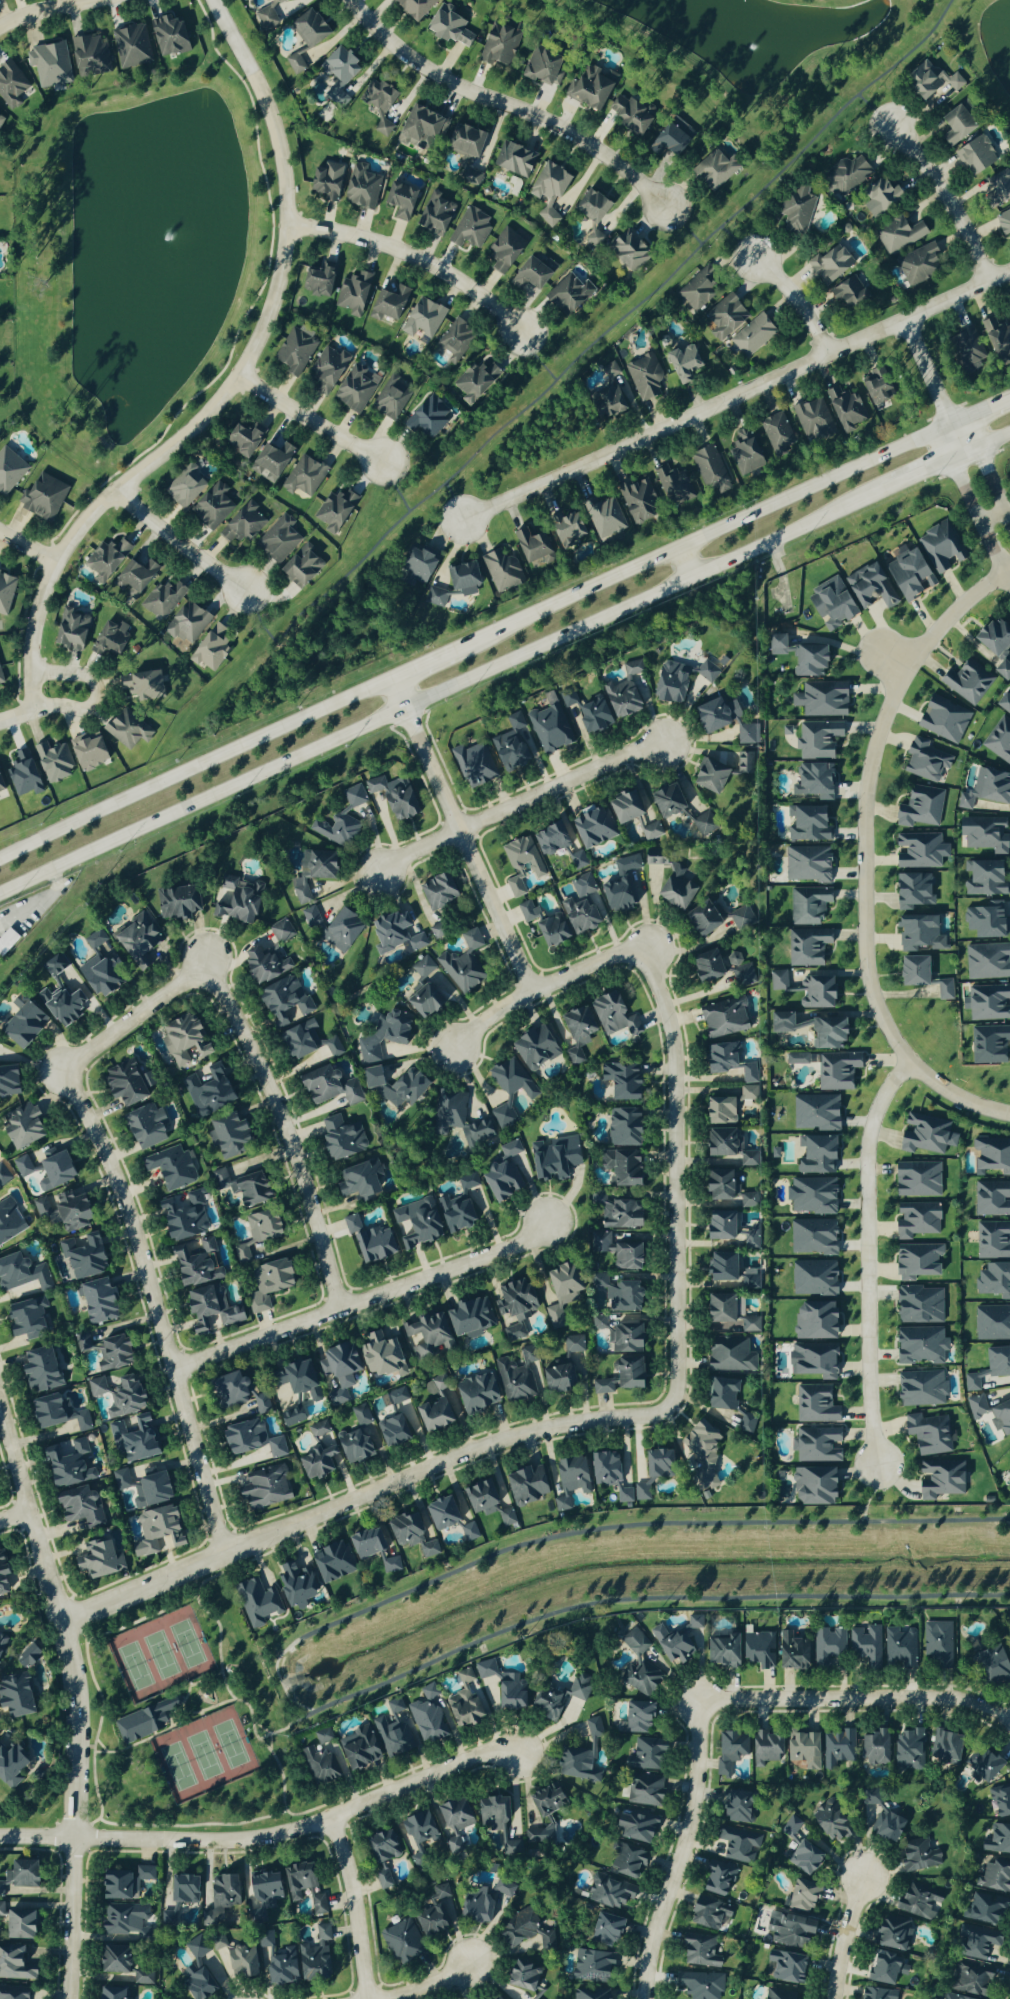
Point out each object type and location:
building: (412, 8)
road: (42, 9)
building: (265, 16)
building: (447, 26)
building: (308, 28)
building: (167, 36)
building: (498, 44)
building: (129, 46)
fountain: (751, 47)
building: (88, 55)
building: (294, 63)
building: (48, 64)
building: (541, 68)
building: (334, 77)
building: (919, 82)
building: (954, 82)
building: (10, 85)
building: (588, 88)
building: (377, 96)
road: (506, 103)
road: (874, 109)
building: (627, 115)
building: (0, 117)
building: (954, 126)
building: (382, 127)
building: (420, 127)
building: (666, 142)
building: (467, 151)
building: (974, 155)
building: (513, 160)
building: (713, 171)
building: (845, 175)
building: (325, 181)
building: (359, 188)
building: (996, 188)
building: (548, 190)
building: (880, 196)
road: (947, 197)
building: (399, 200)
building: (795, 211)
building: (433, 214)
building: (591, 217)
road: (683, 223)
building: (1003, 223)
building: (469, 228)
building: (898, 236)
road: (738, 240)
building: (503, 250)
building: (627, 252)
road: (415, 256)
building: (828, 264)
building: (918, 264)
building: (530, 271)
building: (315, 280)
building: (695, 293)
building: (847, 293)
building: (352, 294)
building: (566, 295)
road: (795, 301)
building: (386, 304)
building: (724, 317)
building: (421, 320)
building: (752, 336)
building: (996, 337)
building: (454, 341)
road: (591, 341)
building: (963, 349)
building: (293, 351)
road: (536, 356)
building: (682, 363)
building: (325, 371)
road: (926, 372)
building: (644, 377)
road: (234, 379)
building: (474, 381)
building: (354, 388)
building: (873, 389)
road: (736, 393)
building: (390, 399)
building: (605, 404)
building: (843, 408)
road: (979, 412)
road: (310, 417)
building: (426, 418)
building: (812, 419)
building: (776, 433)
building: (241, 439)
building: (744, 453)
building: (269, 462)
road: (984, 468)
building: (709, 469)
building: (10, 470)
building: (303, 476)
building: (670, 483)
road: (394, 484)
road: (959, 484)
building: (184, 486)
building: (42, 498)
road: (454, 499)
building: (636, 499)
building: (212, 506)
building: (333, 511)
building: (603, 517)
building: (241, 525)
building: (564, 529)
road: (710, 534)
building: (277, 540)
road: (178, 541)
building: (529, 545)
road: (27, 546)
building: (940, 548)
building: (104, 560)
road: (684, 561)
road: (997, 561)
building: (415, 565)
building: (300, 567)
building: (500, 571)
building: (907, 574)
building: (462, 576)
building: (133, 578)
building: (868, 587)
building: (6, 593)
building: (161, 599)
building: (829, 605)
building: (69, 631)
building: (108, 639)
building: (995, 646)
building: (209, 650)
building: (799, 657)
road: (890, 658)
road: (504, 660)
road: (430, 662)
building: (705, 672)
building: (1, 680)
building: (966, 682)
building: (668, 683)
building: (141, 685)
road: (95, 689)
building: (623, 692)
building: (821, 700)
building: (1004, 702)
building: (585, 713)
road: (16, 714)
building: (714, 715)
building: (942, 719)
building: (548, 728)
building: (124, 730)
building: (747, 734)
building: (817, 740)
building: (999, 741)
building: (511, 744)
building: (86, 751)
building: (924, 761)
building: (51, 762)
building: (472, 764)
road: (194, 771)
building: (21, 774)
building: (707, 776)
building: (813, 782)
building: (0, 788)
building: (985, 789)
building: (393, 797)
building: (666, 801)
road: (518, 804)
building: (623, 807)
building: (919, 808)
building: (808, 824)
building: (590, 827)
building: (651, 832)
road: (462, 834)
building: (984, 834)
building: (550, 839)
building: (919, 851)
road: (865, 852)
building: (522, 856)
building: (650, 858)
building: (577, 861)
building: (806, 865)
building: (309, 874)
building: (984, 879)
building: (620, 886)
building: (514, 887)
building: (673, 889)
building: (912, 891)
building: (435, 893)
road: (37, 901)
building: (232, 901)
building: (176, 903)
building: (583, 906)
building: (807, 906)
building: (527, 912)
building: (740, 919)
building: (700, 920)
building: (986, 921)
building: (280, 931)
building: (436, 931)
building: (550, 931)
building: (394, 934)
building: (918, 934)
building: (94, 940)
building: (136, 942)
building: (806, 947)
building: (987, 962)
building: (462, 964)
building: (262, 965)
building: (720, 968)
building: (912, 972)
building: (98, 975)
building: (778, 981)
road: (540, 986)
building: (943, 990)
building: (816, 994)
building: (281, 1002)
building: (422, 1002)
building: (986, 1003)
building: (59, 1007)
building: (612, 1016)
building: (723, 1018)
building: (22, 1025)
building: (810, 1030)
building: (575, 1032)
building: (381, 1037)
building: (181, 1042)
building: (306, 1042)
building: (988, 1045)
building: (532, 1048)
building: (720, 1058)
building: (796, 1059)
road: (252, 1060)
building: (836, 1071)
building: (748, 1074)
building: (369, 1078)
building: (511, 1079)
building: (620, 1082)
building: (124, 1084)
building: (326, 1087)
building: (401, 1089)
building: (206, 1091)
building: (747, 1093)
building: (718, 1111)
building: (816, 1113)
building: (456, 1125)
building: (144, 1126)
building: (21, 1127)
building: (622, 1128)
building: (227, 1134)
building: (924, 1135)
building: (340, 1139)
building: (718, 1143)
building: (992, 1155)
building: (815, 1156)
building: (748, 1159)
building: (23, 1166)
building: (526, 1166)
building: (170, 1168)
building: (620, 1168)
building: (55, 1170)
building: (3, 1176)
building: (916, 1180)
building: (355, 1182)
building: (466, 1182)
building: (717, 1186)
building: (241, 1188)
building: (811, 1196)
building: (991, 1199)
road: (676, 1208)
building: (62, 1211)
building: (455, 1213)
building: (615, 1213)
building: (181, 1217)
building: (915, 1220)
building: (9, 1222)
building: (415, 1224)
building: (351, 1225)
building: (718, 1227)
building: (256, 1233)
building: (812, 1237)
building: (992, 1241)
building: (371, 1245)
building: (616, 1252)
building: (81, 1256)
road: (868, 1257)
building: (916, 1262)
building: (193, 1264)
building: (719, 1268)
building: (20, 1273)
building: (813, 1279)
building: (994, 1281)
building: (266, 1285)
building: (559, 1293)
building: (615, 1297)
road: (360, 1298)
building: (96, 1300)
road: (157, 1306)
building: (918, 1306)
building: (513, 1309)
building: (209, 1310)
building: (717, 1310)
building: (24, 1317)
building: (469, 1318)
building: (814, 1322)
building: (599, 1324)
building: (991, 1324)
building: (749, 1325)
building: (424, 1335)
building: (623, 1340)
building: (573, 1344)
building: (919, 1346)
building: (103, 1349)
building: (378, 1355)
building: (730, 1355)
building: (813, 1361)
building: (990, 1368)
building: (39, 1370)
building: (337, 1372)
building: (627, 1374)
building: (295, 1377)
building: (517, 1377)
building: (603, 1387)
building: (228, 1389)
building: (920, 1389)
building: (118, 1393)
building: (475, 1394)
building: (720, 1395)
building: (259, 1404)
building: (815, 1405)
building: (44, 1411)
building: (991, 1414)
building: (432, 1415)
building: (75, 1418)
building: (412, 1422)
building: (316, 1429)
building: (391, 1432)
building: (928, 1434)
building: (242, 1436)
building: (134, 1438)
building: (355, 1439)
building: (816, 1445)
building: (275, 1447)
building: (700, 1455)
building: (317, 1462)
building: (67, 1464)
building: (1009, 1465)
building: (604, 1469)
building: (651, 1472)
building: (570, 1476)
building: (121, 1480)
building: (940, 1480)
building: (525, 1486)
building: (812, 1487)
building: (264, 1488)
building: (150, 1490)
building: (479, 1498)
building: (623, 1498)
building: (561, 1504)
building: (79, 1507)
road: (327, 1510)
building: (439, 1513)
road: (14, 1518)
road: (30, 1518)
building: (506, 1518)
building: (155, 1530)
building: (468, 1532)
building: (409, 1534)
building: (365, 1543)
building: (97, 1560)
building: (330, 1562)
building: (388, 1564)
building: (2, 1579)
building: (294, 1584)
building: (256, 1602)
building: (693, 1621)
road: (215, 1622)
building: (670, 1644)
building: (937, 1644)
building: (826, 1645)
building: (3, 1646)
building: (865, 1646)
building: (899, 1646)
building: (721, 1650)
building: (757, 1650)
building: (790, 1651)
park: (160, 1653)
building: (26, 1657)
building: (639, 1666)
building: (991, 1666)
road: (274, 1673)
building: (465, 1675)
road: (192, 1684)
building: (500, 1687)
building: (578, 1688)
building: (15, 1696)
building: (546, 1702)
road: (857, 1702)
building: (462, 1709)
road: (293, 1718)
building: (427, 1718)
building: (635, 1718)
building: (143, 1721)
park: (186, 1721)
road: (97, 1724)
road: (284, 1728)
road: (75, 1729)
building: (392, 1736)
building: (943, 1746)
building: (763, 1748)
building: (802, 1748)
building: (837, 1748)
building: (872, 1748)
building: (907, 1748)
building: (357, 1749)
building: (728, 1753)
building: (580, 1754)
road: (271, 1755)
building: (645, 1755)
park: (202, 1756)
building: (320, 1761)
building: (982, 1765)
building: (10, 1766)
building: (643, 1789)
building: (1000, 1801)
building: (734, 1806)
building: (540, 1816)
building: (452, 1822)
building: (828, 1824)
building: (496, 1827)
building: (634, 1827)
building: (790, 1828)
building: (886, 1828)
building: (416, 1832)
road: (265, 1837)
building: (997, 1840)
building: (739, 1845)
building: (381, 1846)
road: (678, 1854)
building: (918, 1856)
building: (804, 1858)
building: (624, 1861)
building: (993, 1875)
building: (17, 1877)
building: (716, 1878)
building: (382, 1879)
building: (296, 1880)
building: (121, 1883)
building: (182, 1889)
building: (502, 1890)
building: (221, 1891)
building: (608, 1892)
building: (259, 1895)
building: (800, 1896)
building: (918, 1901)
building: (318, 1905)
building: (475, 1907)
road: (356, 1908)
building: (984, 1910)
building: (434, 1914)
road: (67, 1918)
building: (124, 1922)
building: (16, 1923)
building: (604, 1929)
building: (526, 1931)
building: (791, 1931)
building: (890, 1933)
road: (843, 1938)
building: (217, 1942)
building: (975, 1942)
building: (400, 1943)
building: (699, 1951)
building: (314, 1956)
building: (112, 1960)
building: (273, 1961)
building: (240, 1962)
building: (14, 1964)
building: (591, 1966)
building: (785, 1967)
building: (881, 1968)
building: (520, 1976)
building: (143, 1977)
building: (972, 1978)
building: (197, 1984)
road: (425, 1985)
building: (699, 1985)
building: (12, 1992)
building: (109, 1993)
building: (590, 1993)
building: (781, 1994)
building: (875, 1994)
building: (950, 1997)
building: (497, 1998)
building: (533, 1998)

